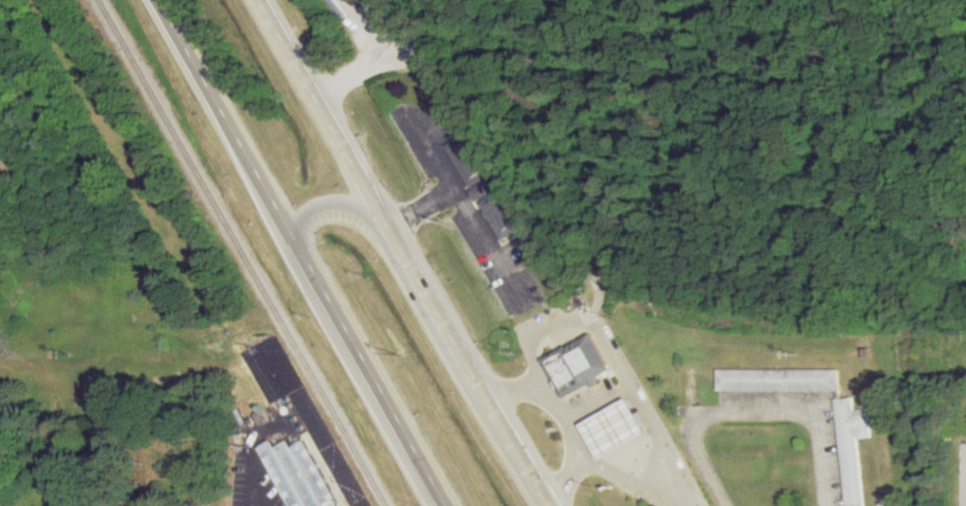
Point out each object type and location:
road: (469, 106)
road: (329, 117)
road: (232, 124)
building: (483, 185)
road: (423, 202)
road: (472, 205)
road: (342, 214)
railway: (244, 252)
road: (598, 323)
building: (579, 365)
road: (472, 371)
road: (376, 377)
building: (777, 380)
road: (755, 410)
road: (563, 416)
road: (286, 417)
building: (616, 428)
building: (850, 448)
road: (676, 464)
building: (298, 474)
road: (630, 483)
road: (965, 494)

